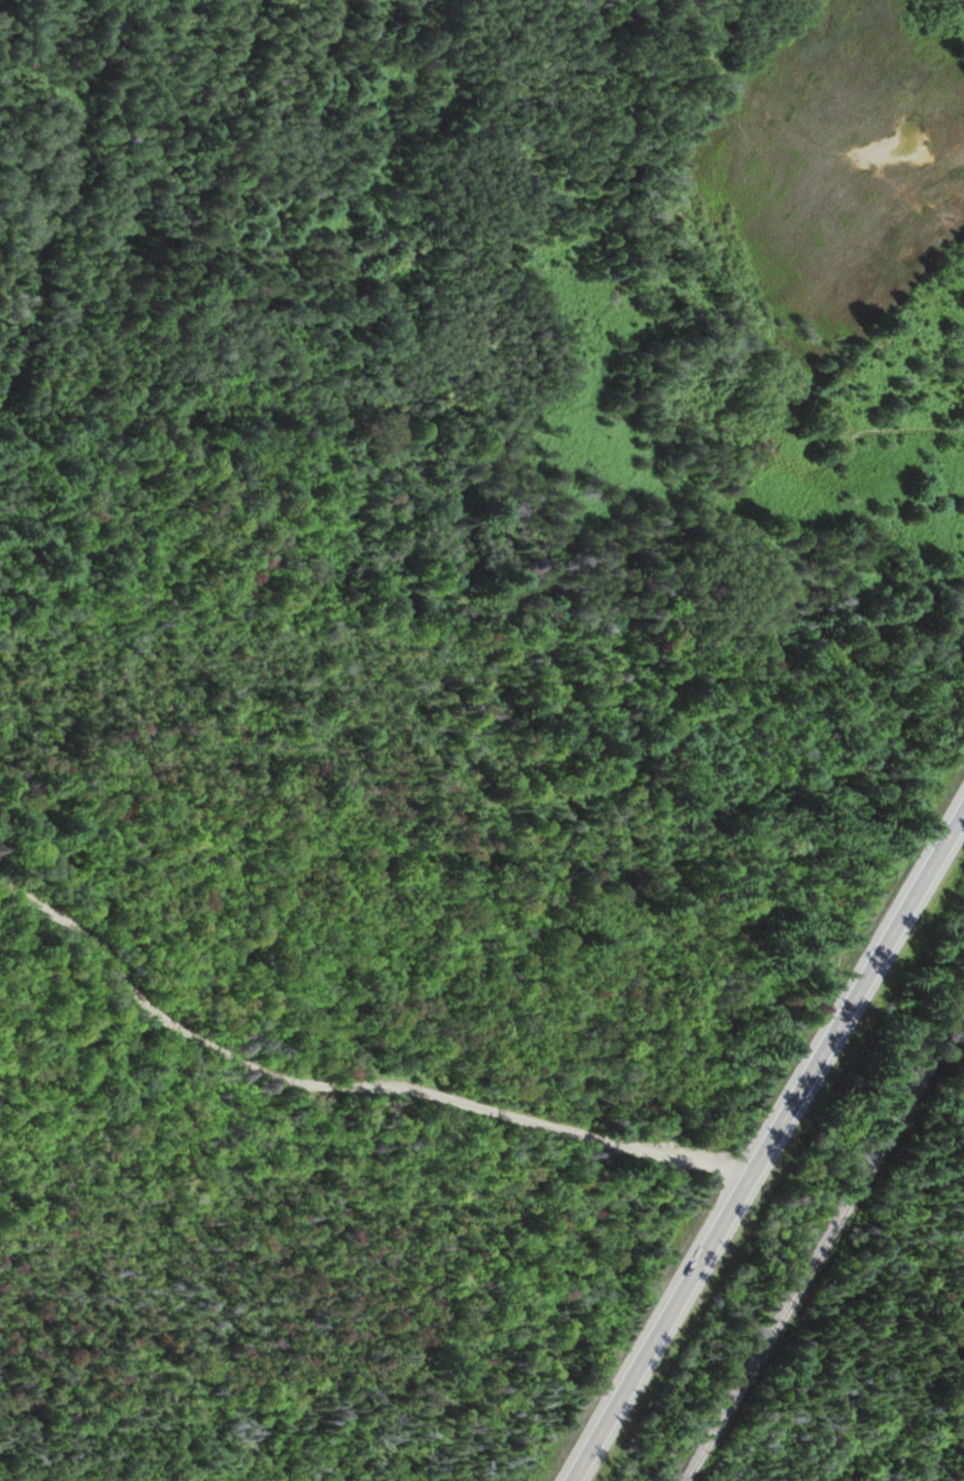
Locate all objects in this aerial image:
road: (340, 1086)
road: (764, 1141)
railway: (825, 1245)

